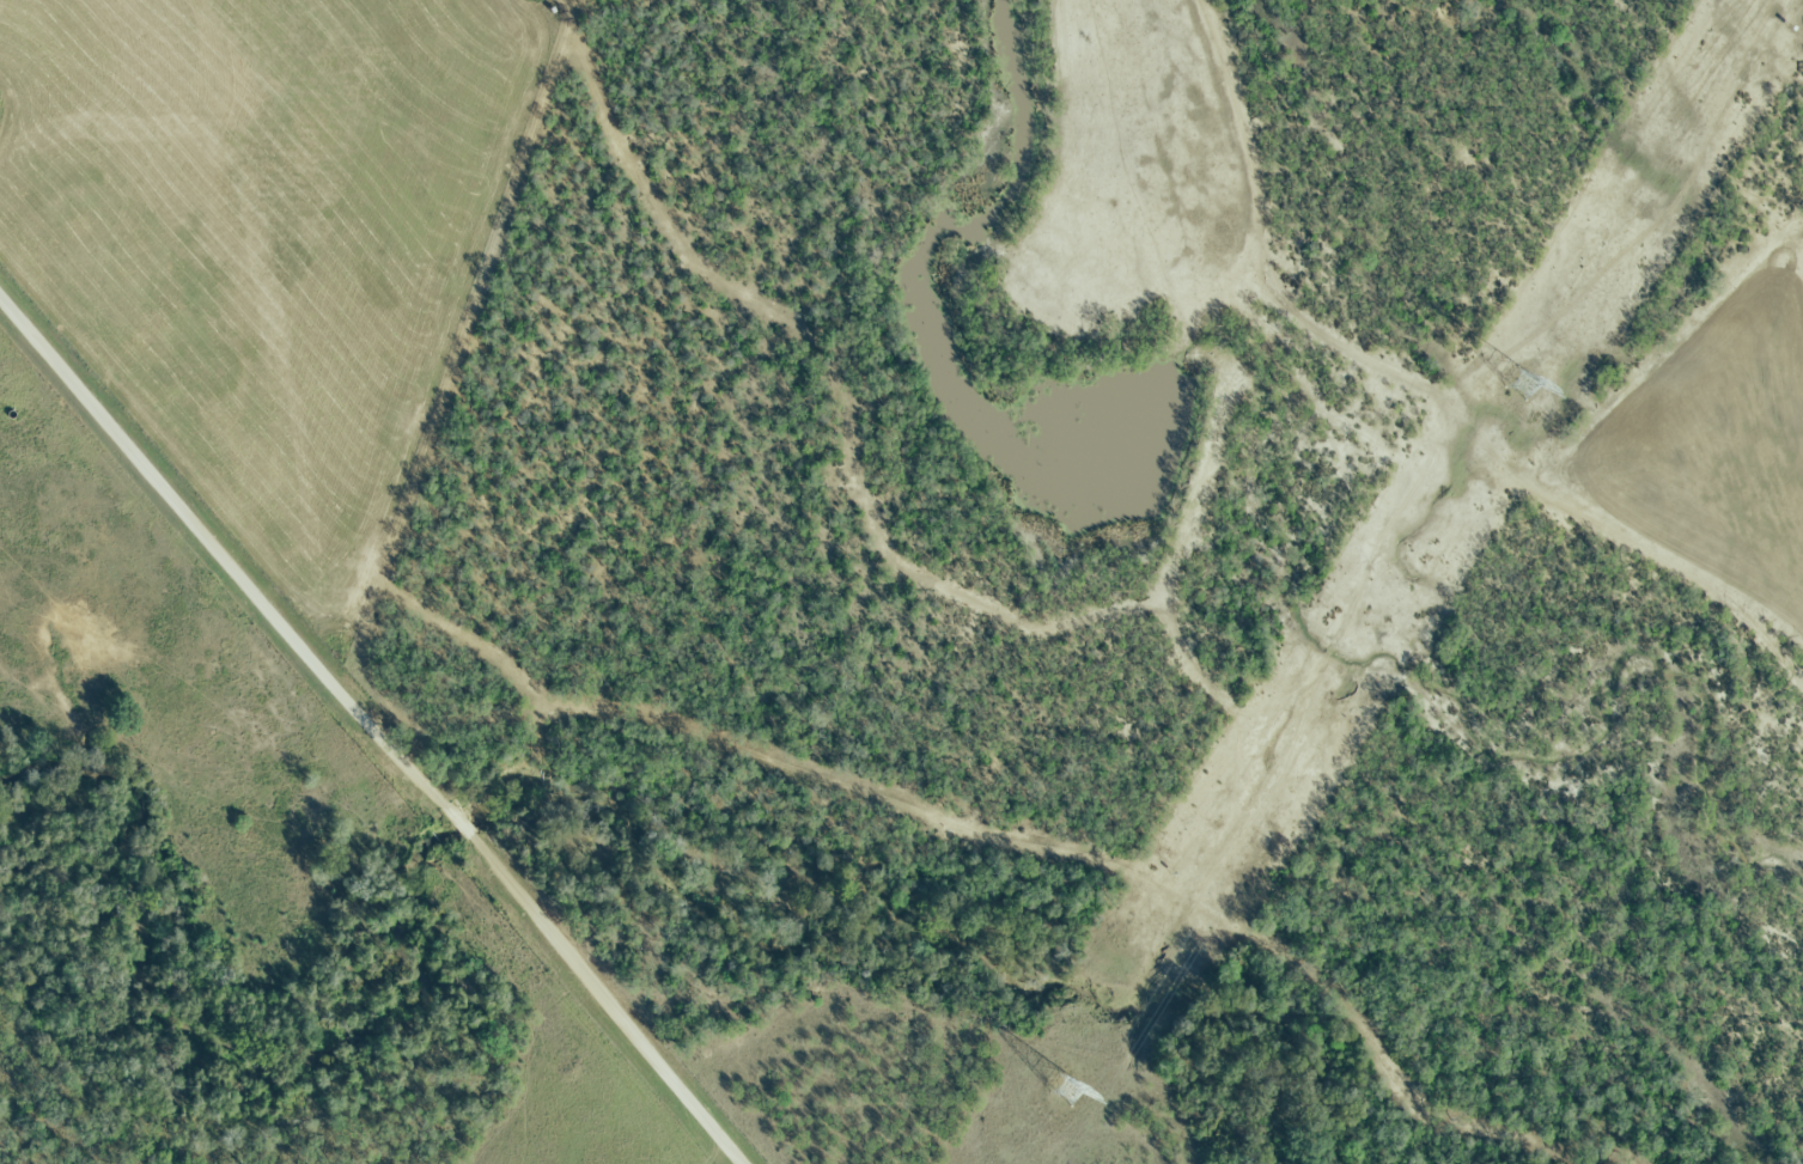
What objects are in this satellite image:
power tower: (1519, 384)
road: (371, 727)
power tower: (1067, 1089)

